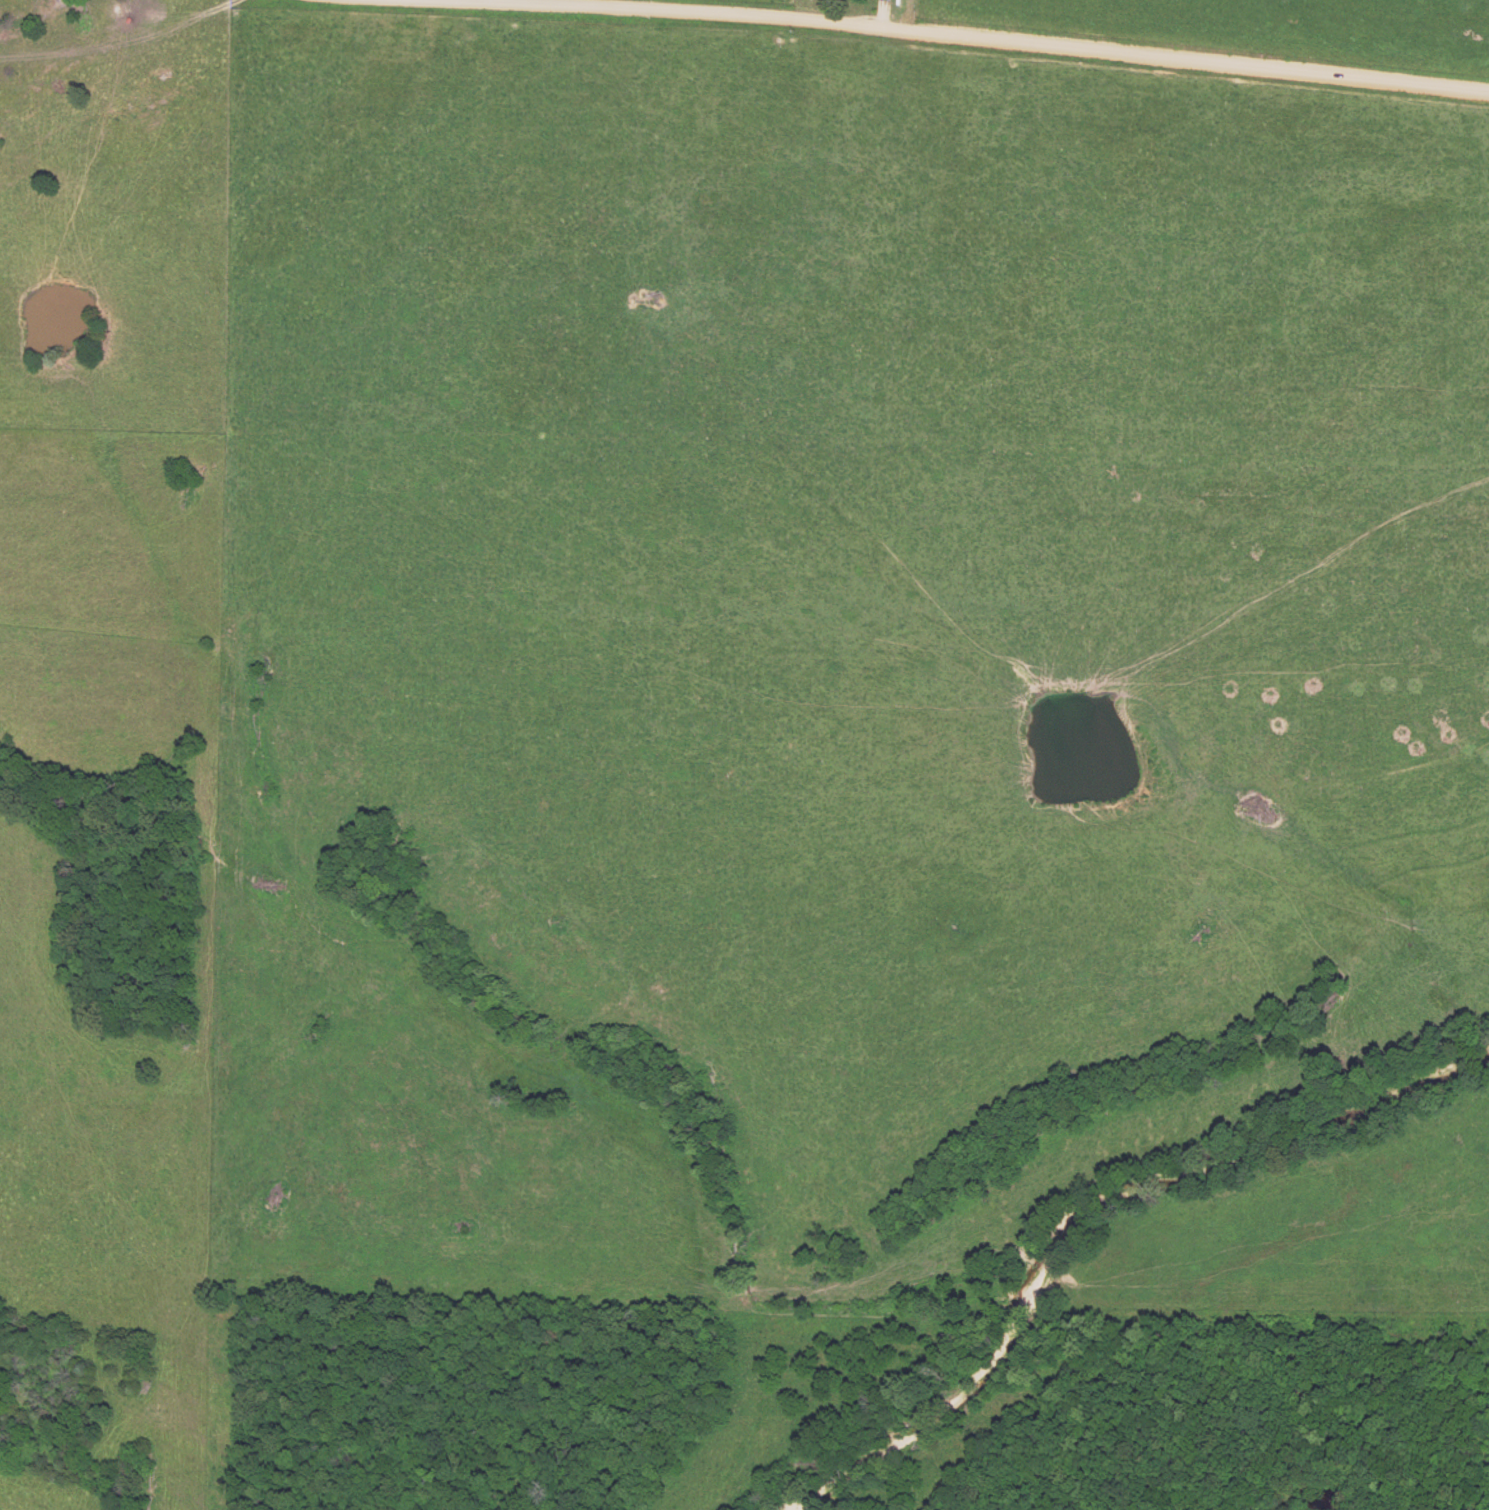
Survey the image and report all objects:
road: (873, 62)

